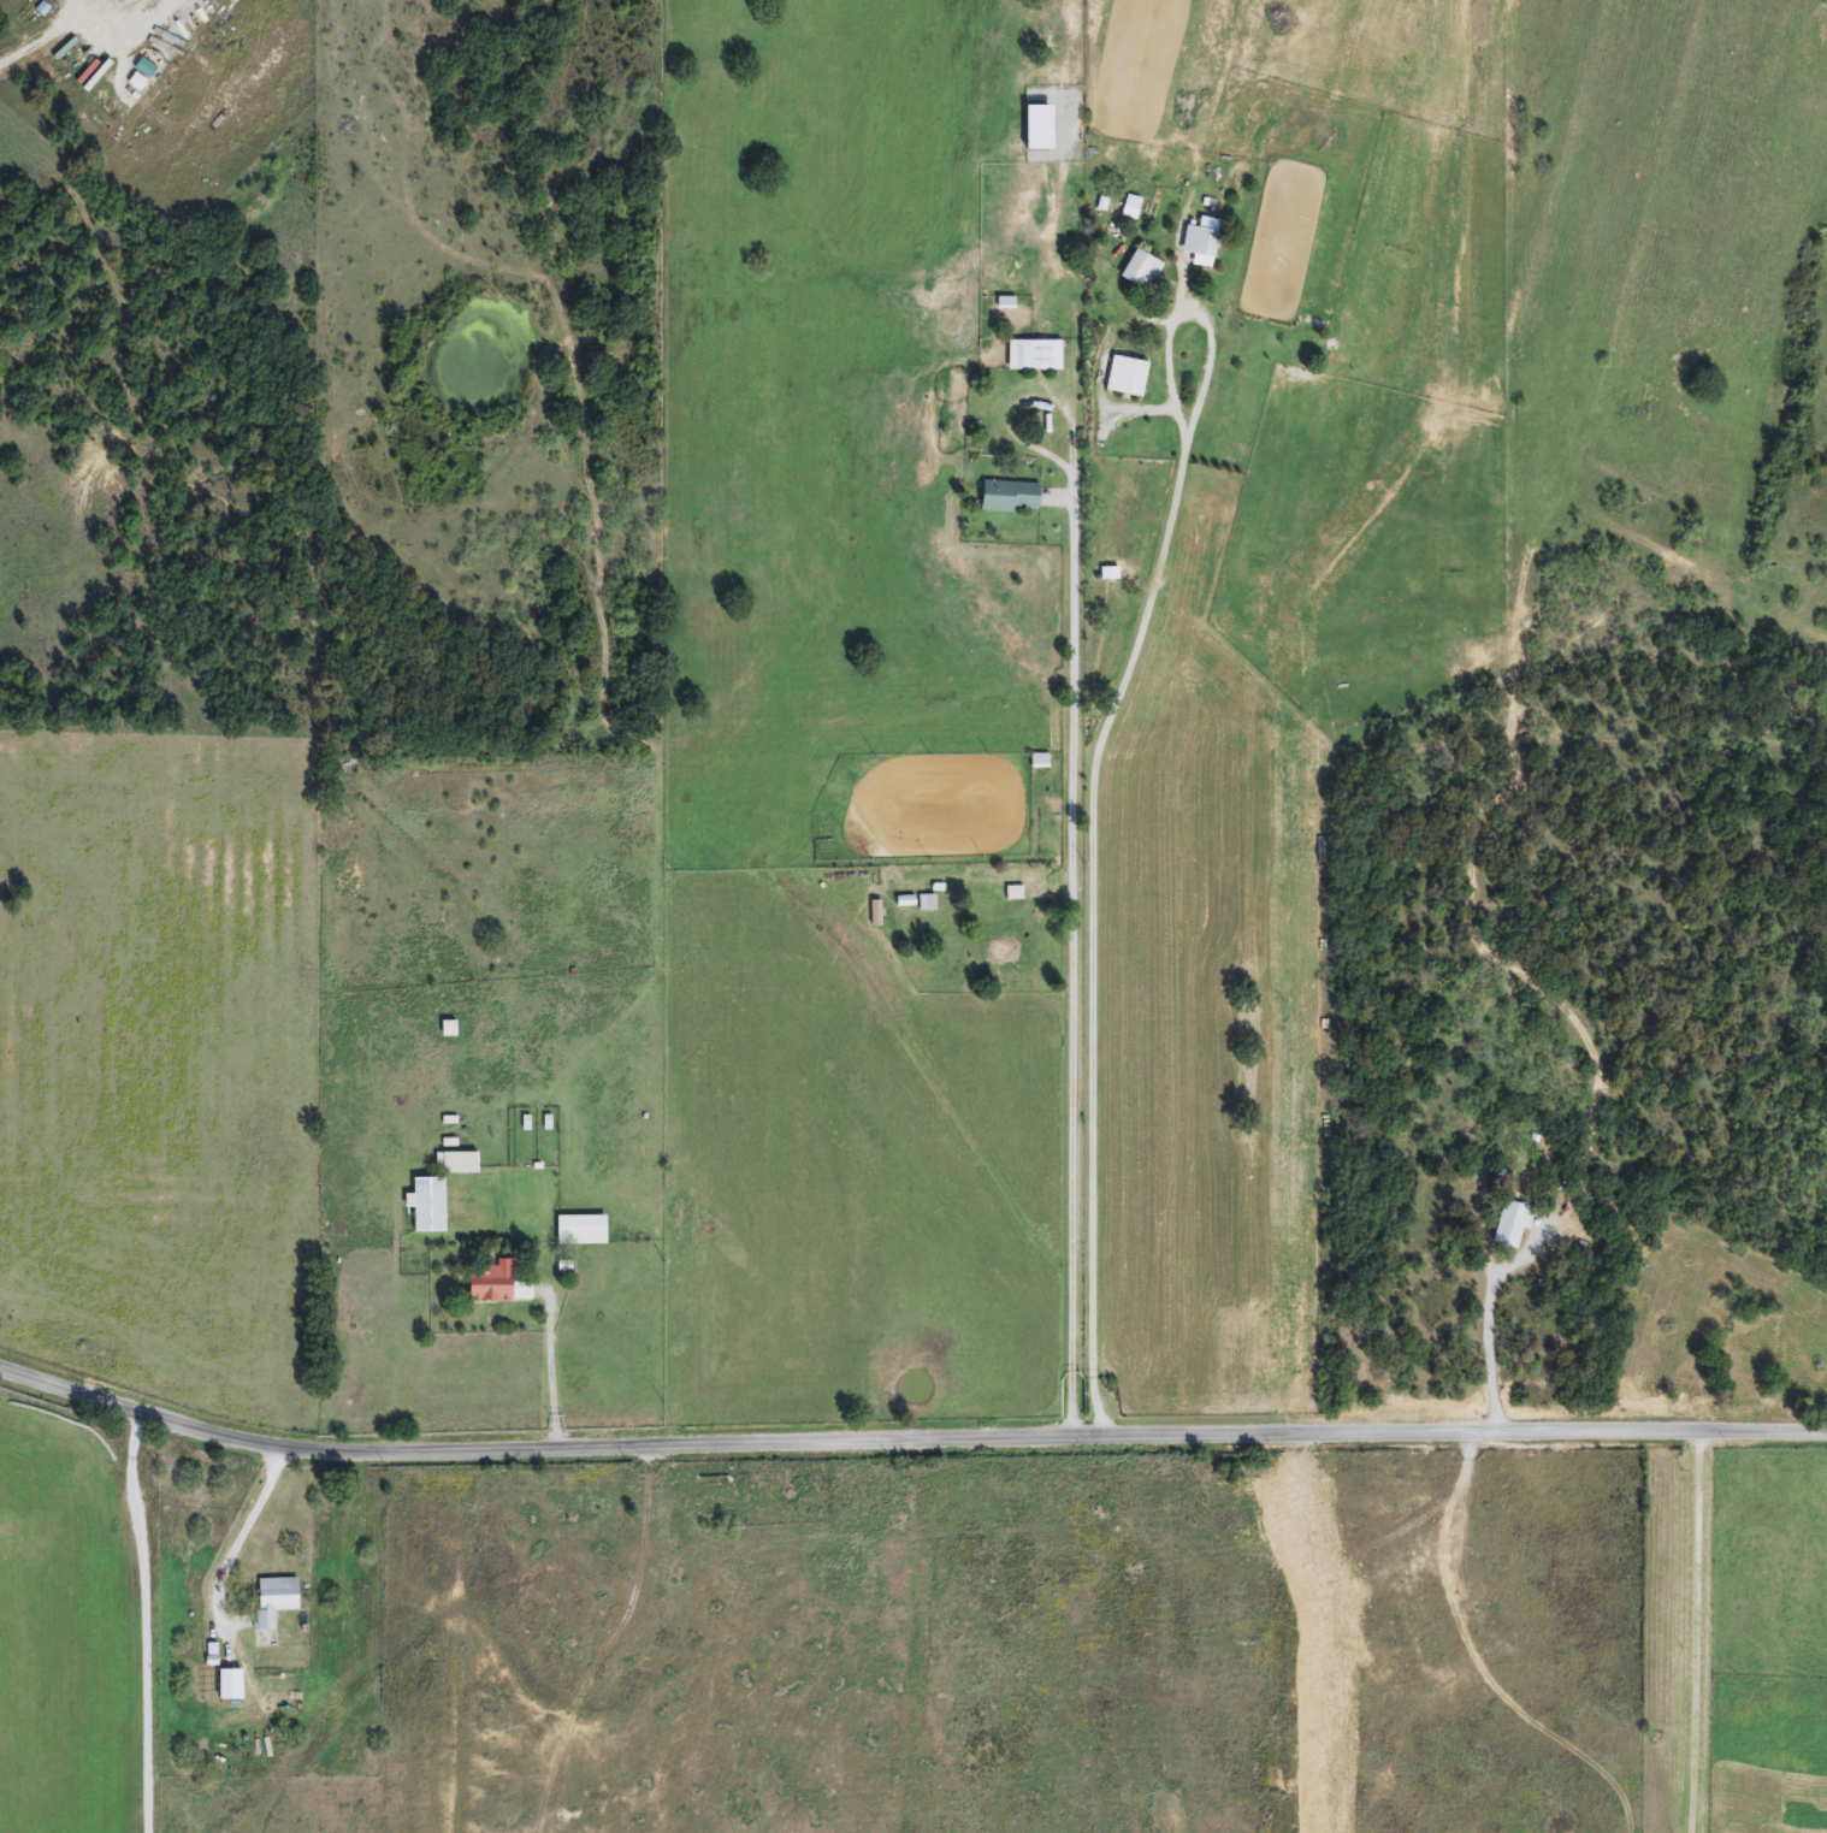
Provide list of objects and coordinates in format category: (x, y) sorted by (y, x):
road: (25, 54)
building: (94, 100)
building: (1200, 246)
building: (1141, 271)
building: (1035, 355)
building: (1127, 377)
building: (1010, 497)
building: (1040, 759)
road: (1093, 788)
building: (875, 913)
road: (1071, 957)
building: (448, 1029)
building: (460, 1163)
building: (427, 1204)
building: (1510, 1225)
building: (580, 1230)
building: (496, 1283)
road: (1486, 1324)
road: (551, 1374)
road: (65, 1393)
road: (1762, 1436)
road: (911, 1447)
road: (232, 1545)
building: (274, 1600)
road: (142, 1622)
road: (1691, 1633)

